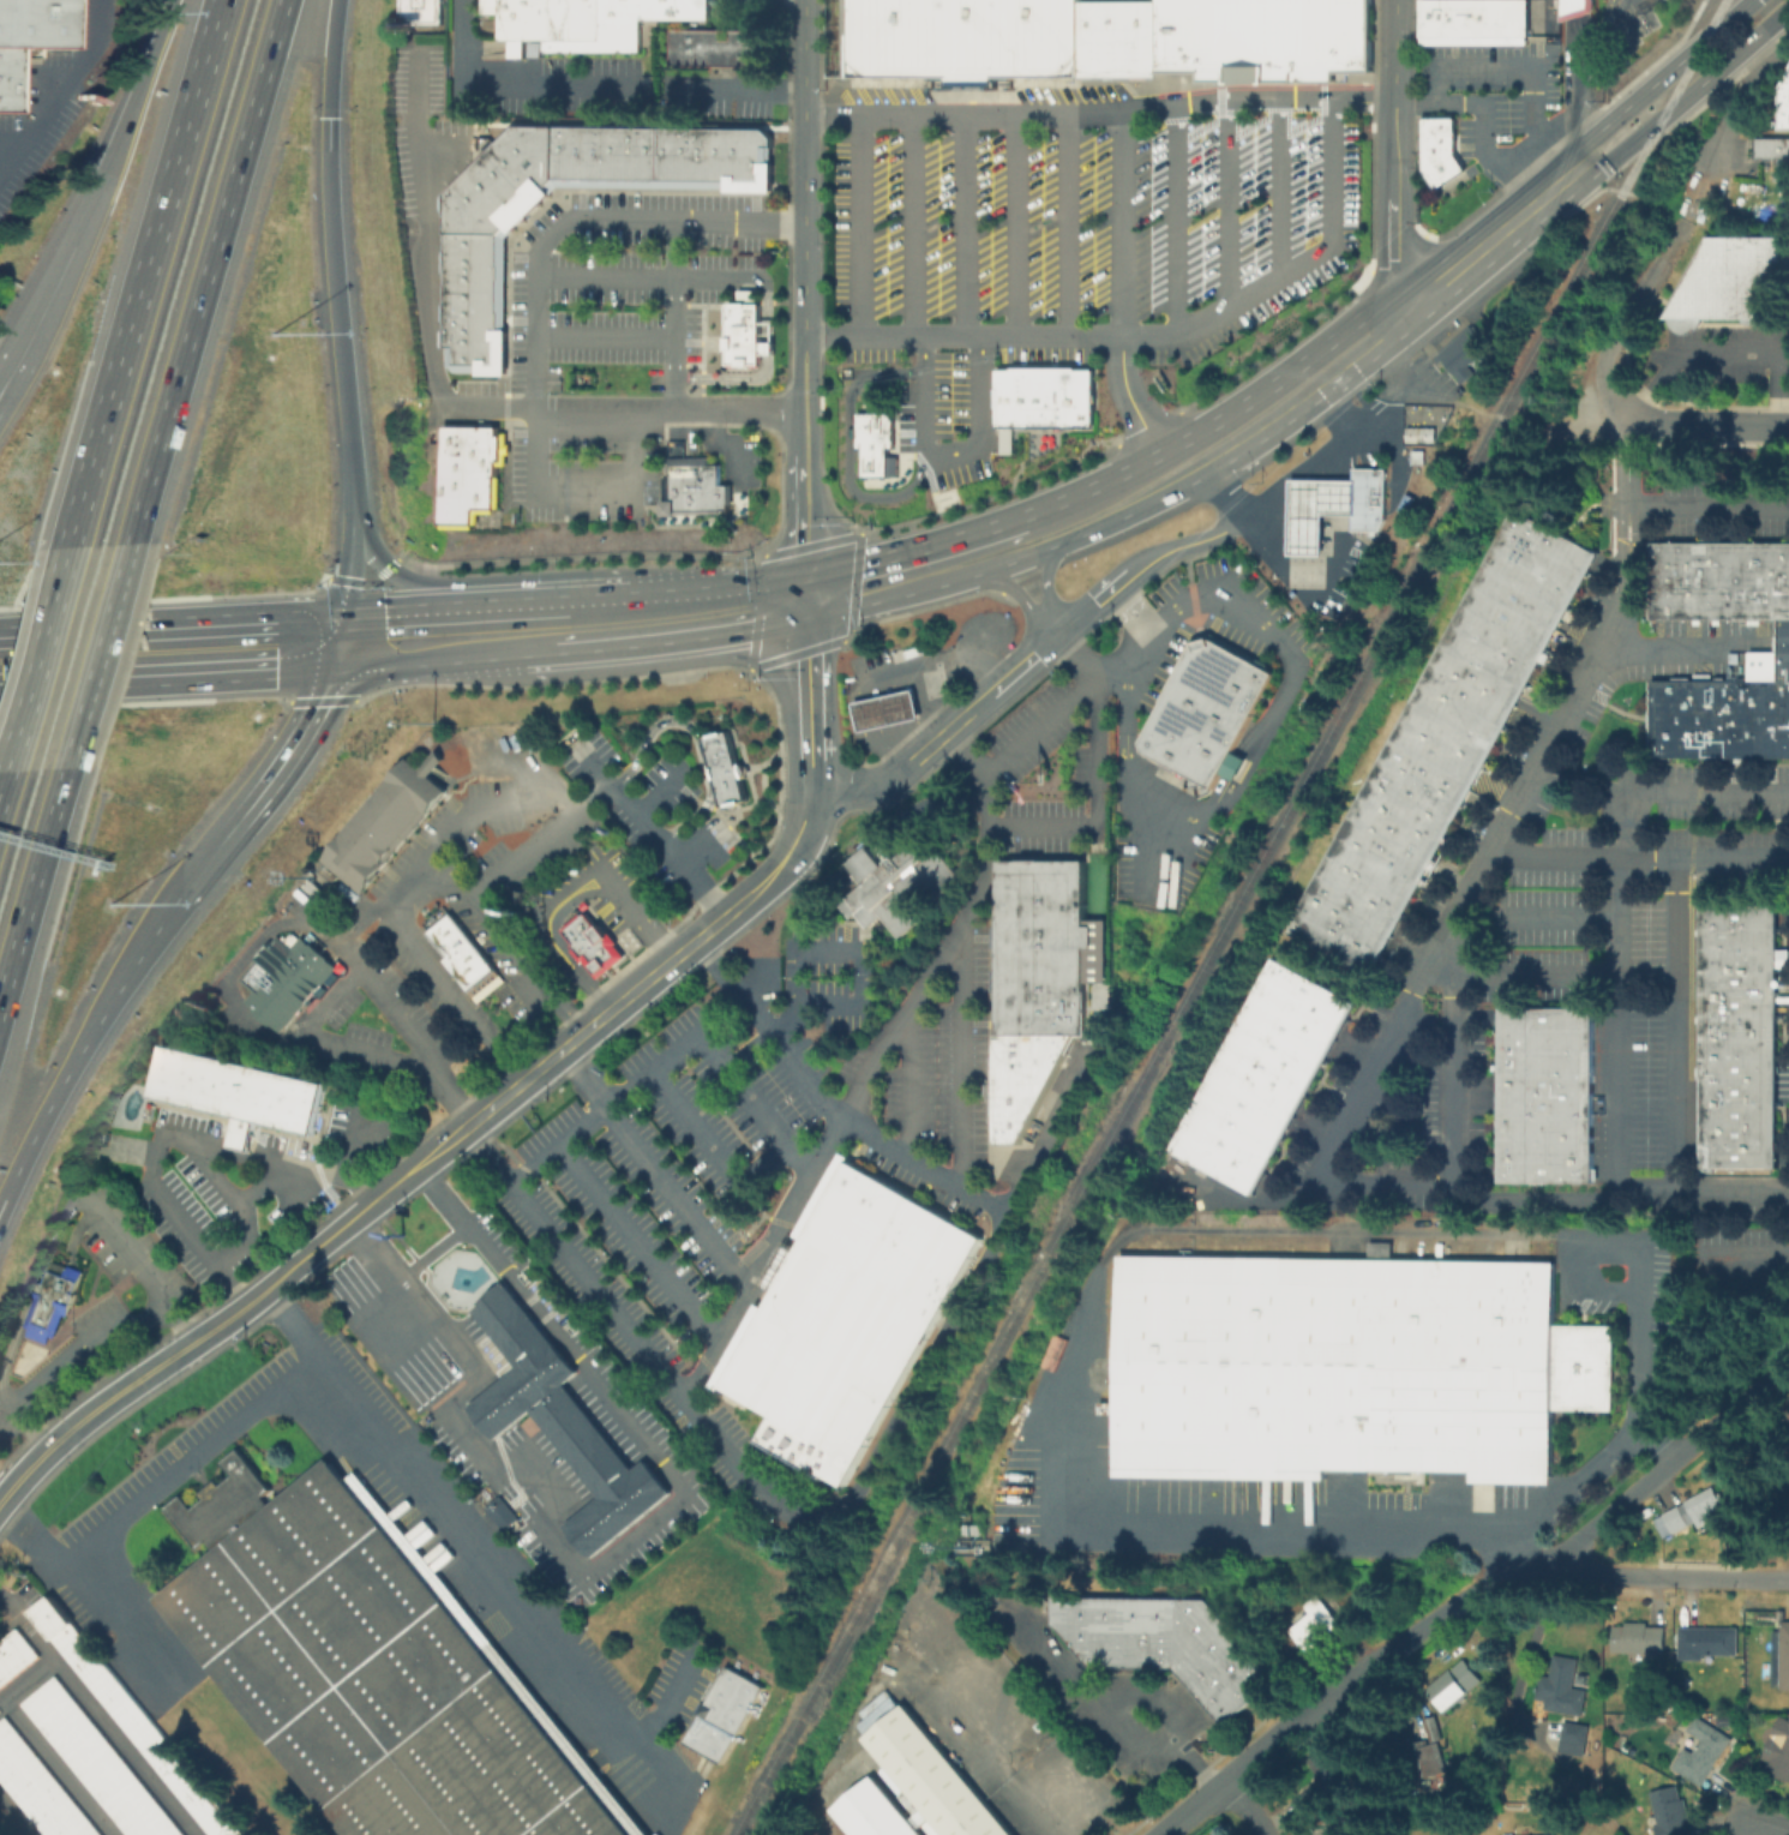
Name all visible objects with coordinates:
road: (1613, 6)
road: (1628, 6)
building: (1574, 8)
road: (1575, 8)
building: (419, 14)
road: (1393, 17)
building: (582, 22)
building: (1473, 22)
building: (32, 23)
building: (838, 37)
building: (962, 38)
building: (1086, 38)
building: (1107, 38)
building: (1137, 38)
building: (1262, 38)
building: (716, 47)
road: (1579, 49)
road: (328, 59)
road: (1507, 71)
road: (1393, 74)
road: (1584, 77)
road: (1661, 77)
building: (6, 78)
road: (510, 88)
road: (739, 90)
road: (1689, 91)
road: (56, 97)
building: (1784, 103)
road: (1742, 106)
road: (127, 113)
road: (1098, 113)
traffic signals: (325, 120)
road: (1484, 122)
road: (325, 127)
building: (1437, 134)
road: (1547, 134)
building: (1771, 148)
building: (536, 156)
building: (580, 156)
building: (598, 156)
building: (614, 156)
building: (641, 156)
building: (666, 156)
building: (691, 157)
building: (726, 157)
building: (757, 157)
road: (803, 164)
building: (1440, 168)
road: (1280, 188)
road: (1231, 203)
building: (485, 205)
road: (1393, 210)
road: (1680, 214)
road: (583, 218)
road: (1176, 221)
road: (864, 223)
road: (917, 223)
road: (965, 223)
road: (1019, 223)
road: (1070, 223)
road: (1124, 223)
road: (1500, 228)
parking lot: (1067, 240)
road: (754, 250)
road: (206, 271)
road: (145, 274)
building: (474, 277)
road: (647, 278)
building: (1736, 283)
road: (49, 288)
building: (745, 294)
road: (766, 308)
road: (674, 316)
building: (473, 320)
road: (335, 323)
road: (605, 334)
building: (744, 334)
road: (1154, 334)
road: (1610, 335)
parking lot: (607, 343)
road: (766, 348)
building: (1460, 353)
road: (1728, 353)
building: (473, 354)
road: (10, 370)
road: (796, 370)
road: (1401, 373)
road: (728, 377)
road: (1321, 388)
road: (1129, 395)
building: (1050, 396)
building: (1003, 397)
building: (1022, 397)
building: (1081, 397)
road: (444, 403)
road: (1229, 410)
road: (1529, 419)
road: (1710, 427)
building: (874, 442)
road: (848, 443)
road: (730, 445)
building: (1418, 457)
road: (943, 460)
road: (812, 462)
building: (468, 470)
building: (696, 486)
road: (581, 490)
road: (1299, 497)
building: (1365, 498)
road: (1710, 499)
road: (792, 504)
road: (1253, 504)
building: (1314, 510)
gas station: (1314, 510)
road: (1334, 526)
road: (995, 527)
road: (1094, 527)
road: (803, 546)
road: (1169, 548)
road: (953, 559)
road: (987, 575)
road: (343, 576)
road: (870, 581)
building: (1718, 581)
road: (404, 586)
road: (1044, 588)
traffic signals: (804, 596)
road: (719, 611)
parking lot: (1223, 617)
road: (1043, 619)
road: (600, 623)
road: (540, 629)
road: (503, 631)
road: (412, 637)
traffic signals: (334, 642)
road: (1679, 647)
building: (913, 650)
road: (167, 652)
road: (1122, 653)
road: (96, 654)
road: (38, 660)
road: (936, 661)
road: (808, 689)
building: (886, 709)
gas station: (886, 709)
building: (1725, 710)
building: (1205, 712)
road: (1097, 722)
parking lot: (1035, 730)
road: (943, 731)
road: (697, 739)
building: (1446, 743)
road: (968, 750)
parking lot: (586, 761)
building: (724, 768)
road: (600, 772)
road: (266, 778)
road: (4, 782)
parking lot: (666, 787)
road: (1679, 788)
building: (428, 793)
road: (1235, 797)
road: (656, 802)
road: (918, 805)
building: (379, 812)
parking lot: (1043, 826)
building: (398, 828)
road: (1043, 828)
road: (450, 834)
building: (385, 844)
road: (546, 846)
parking lot: (714, 846)
road: (1641, 853)
road: (666, 856)
road: (695, 856)
road: (858, 859)
parking lot: (1163, 860)
building: (365, 869)
road: (32, 878)
building: (896, 883)
road: (1147, 892)
road: (420, 893)
road: (401, 901)
road: (812, 901)
road: (634, 908)
road: (560, 916)
railway: (1227, 918)
road: (1537, 918)
road: (547, 942)
building: (594, 946)
road: (862, 946)
building: (1044, 947)
building: (463, 958)
road: (132, 959)
road: (1538, 973)
building: (284, 978)
parking lot: (836, 978)
road: (736, 987)
road: (1413, 995)
road: (325, 1005)
road: (604, 1013)
road: (785, 1023)
road: (403, 1026)
building: (1741, 1038)
road: (886, 1045)
road: (752, 1053)
road: (1619, 1053)
building: (1028, 1055)
road: (960, 1063)
road: (727, 1066)
parking lot: (945, 1067)
building: (1265, 1077)
road: (583, 1079)
road: (1676, 1079)
road: (810, 1080)
road: (908, 1090)
building: (236, 1092)
parking lot: (725, 1096)
building: (1549, 1096)
road: (452, 1098)
building: (1015, 1107)
road: (46, 1109)
road: (367, 1128)
road: (582, 1128)
road: (697, 1128)
road: (352, 1139)
road: (217, 1141)
road: (238, 1141)
road: (158, 1147)
road: (781, 1152)
road: (277, 1153)
road: (311, 1168)
parking lot: (259, 1181)
road: (679, 1199)
road: (1537, 1200)
building: (899, 1216)
road: (59, 1225)
road: (82, 1227)
road: (251, 1237)
parking lot: (629, 1239)
road: (641, 1245)
road: (164, 1247)
building: (1379, 1248)
road: (433, 1254)
road: (576, 1264)
road: (1639, 1265)
road: (146, 1277)
road: (234, 1283)
road: (37, 1288)
building: (53, 1301)
parking lot: (107, 1307)
road: (398, 1324)
road: (203, 1333)
building: (834, 1338)
road: (86, 1347)
road: (12, 1350)
building: (1344, 1367)
road: (1075, 1378)
parking lot: (432, 1404)
building: (560, 1422)
road: (32, 1427)
building: (1775, 1447)
road: (23, 1471)
road: (744, 1479)
road: (1574, 1482)
road: (162, 1485)
building: (502, 1512)
building: (1695, 1513)
building: (1787, 1529)
road: (476, 1545)
road: (599, 1560)
road: (1508, 1575)
road: (1671, 1577)
road: (128, 1612)
building: (1314, 1624)
road: (28, 1629)
building: (1641, 1642)
building: (1165, 1644)
building: (1705, 1644)
building: (14, 1656)
building: (1781, 1659)
building: (373, 1668)
road: (26, 1680)
building: (1457, 1690)
building: (1566, 1690)
road: (1148, 1696)
road: (666, 1703)
building: (722, 1714)
building: (131, 1719)
road: (1116, 1719)
building: (1572, 1738)
road: (125, 1747)
road: (983, 1751)
building: (1778, 1753)
building: (1429, 1755)
building: (1700, 1756)
building: (97, 1761)
road: (59, 1767)
building: (911, 1782)
building: (38, 1787)
building: (1322, 1787)
road: (1242, 1807)
road: (1190, 1809)
road: (16, 1813)
building: (1671, 1815)
road: (1767, 1824)
building: (1341, 1825)
building: (1547, 1834)

